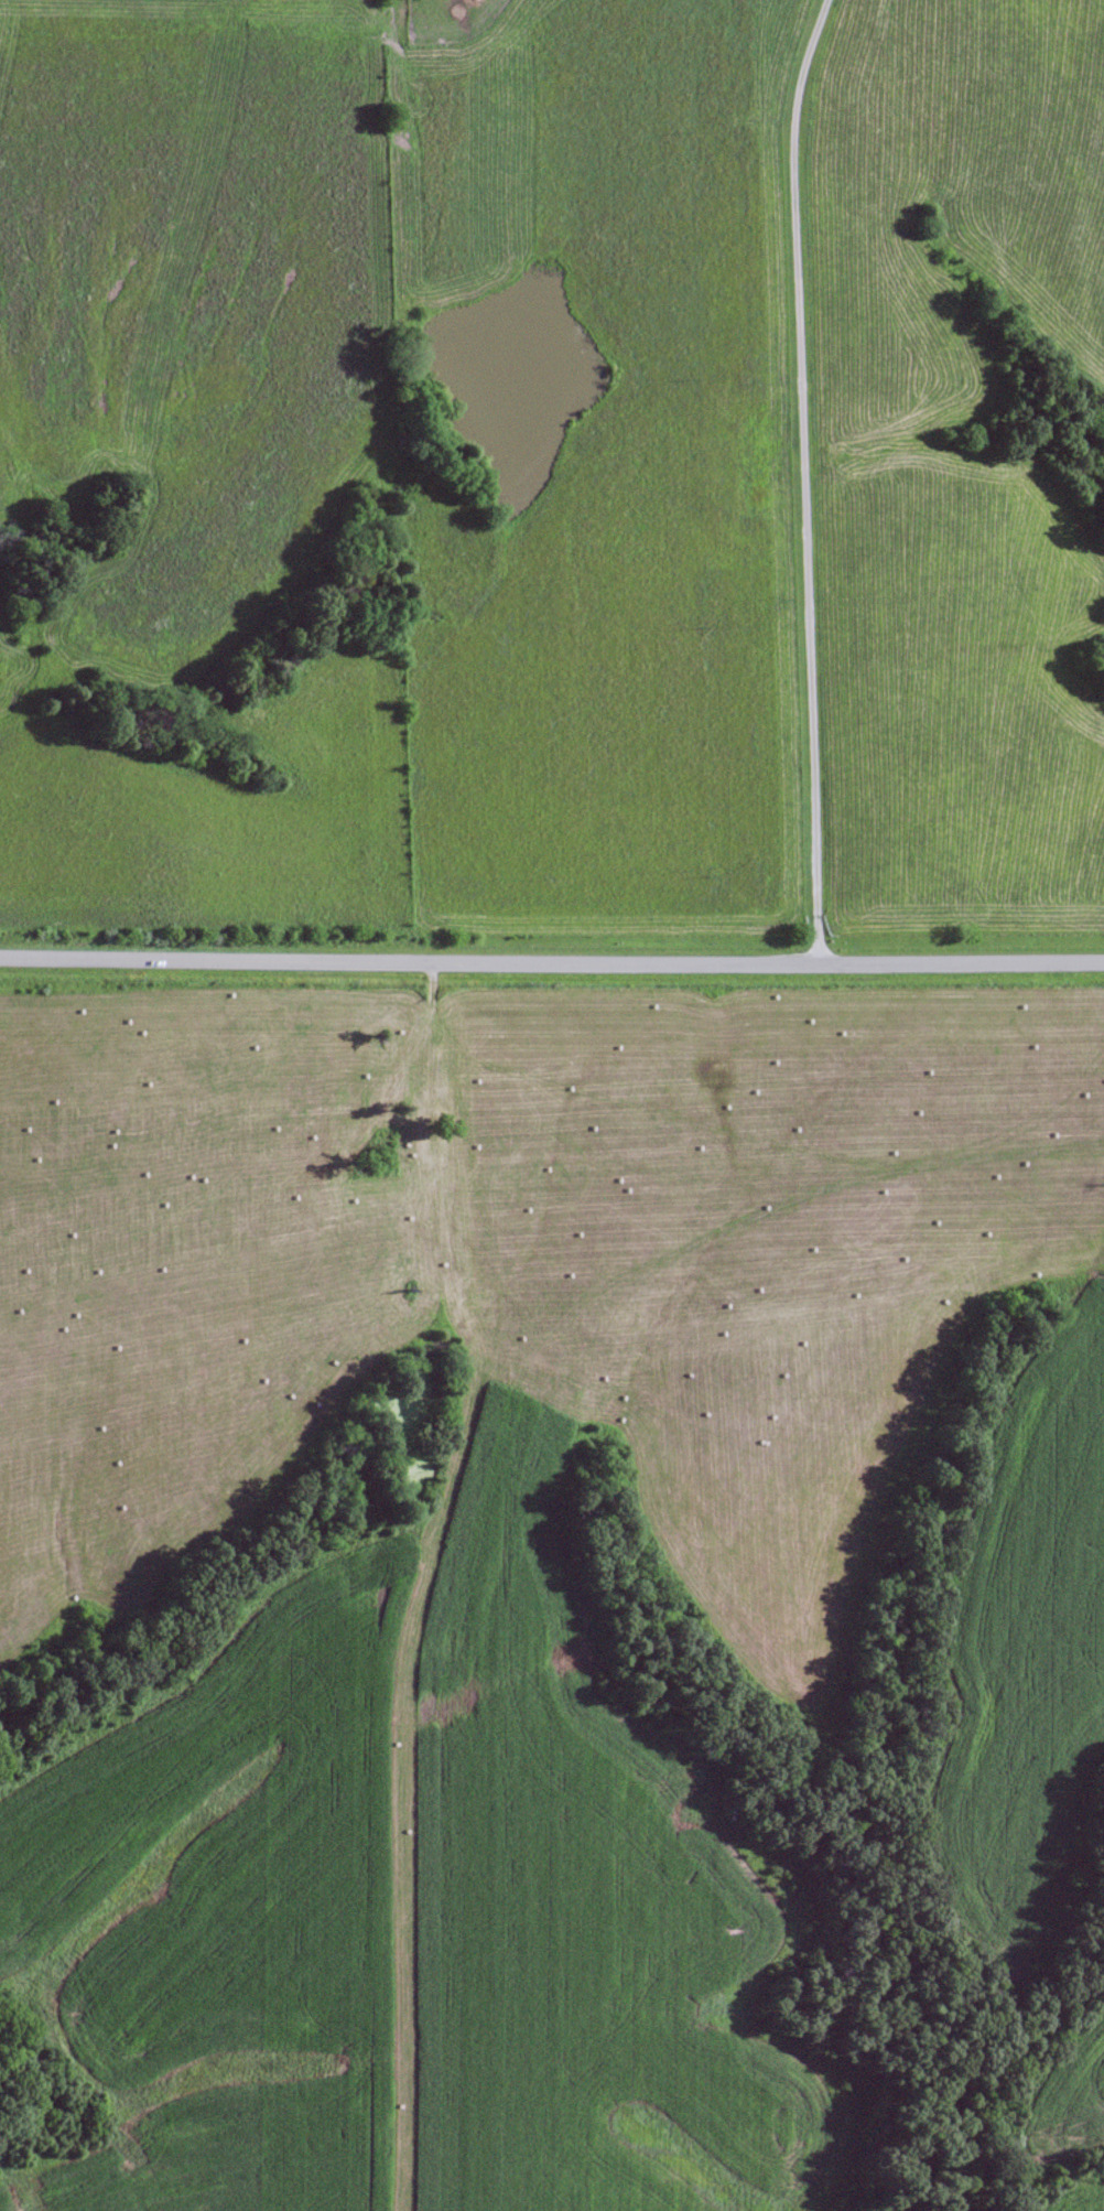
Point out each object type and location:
road: (803, 481)
road: (551, 966)
road: (425, 1113)
road: (435, 1581)

